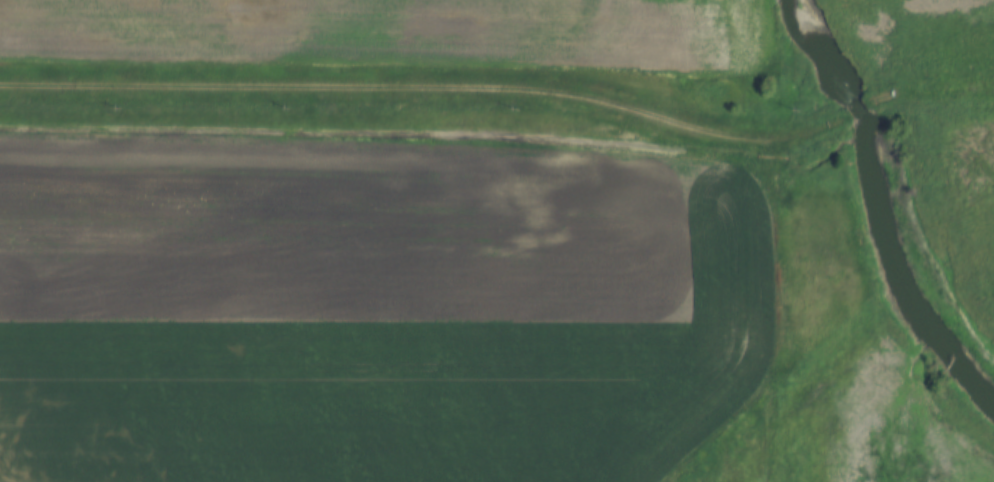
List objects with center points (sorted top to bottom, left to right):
road: (504, 88)
river: (880, 151)

